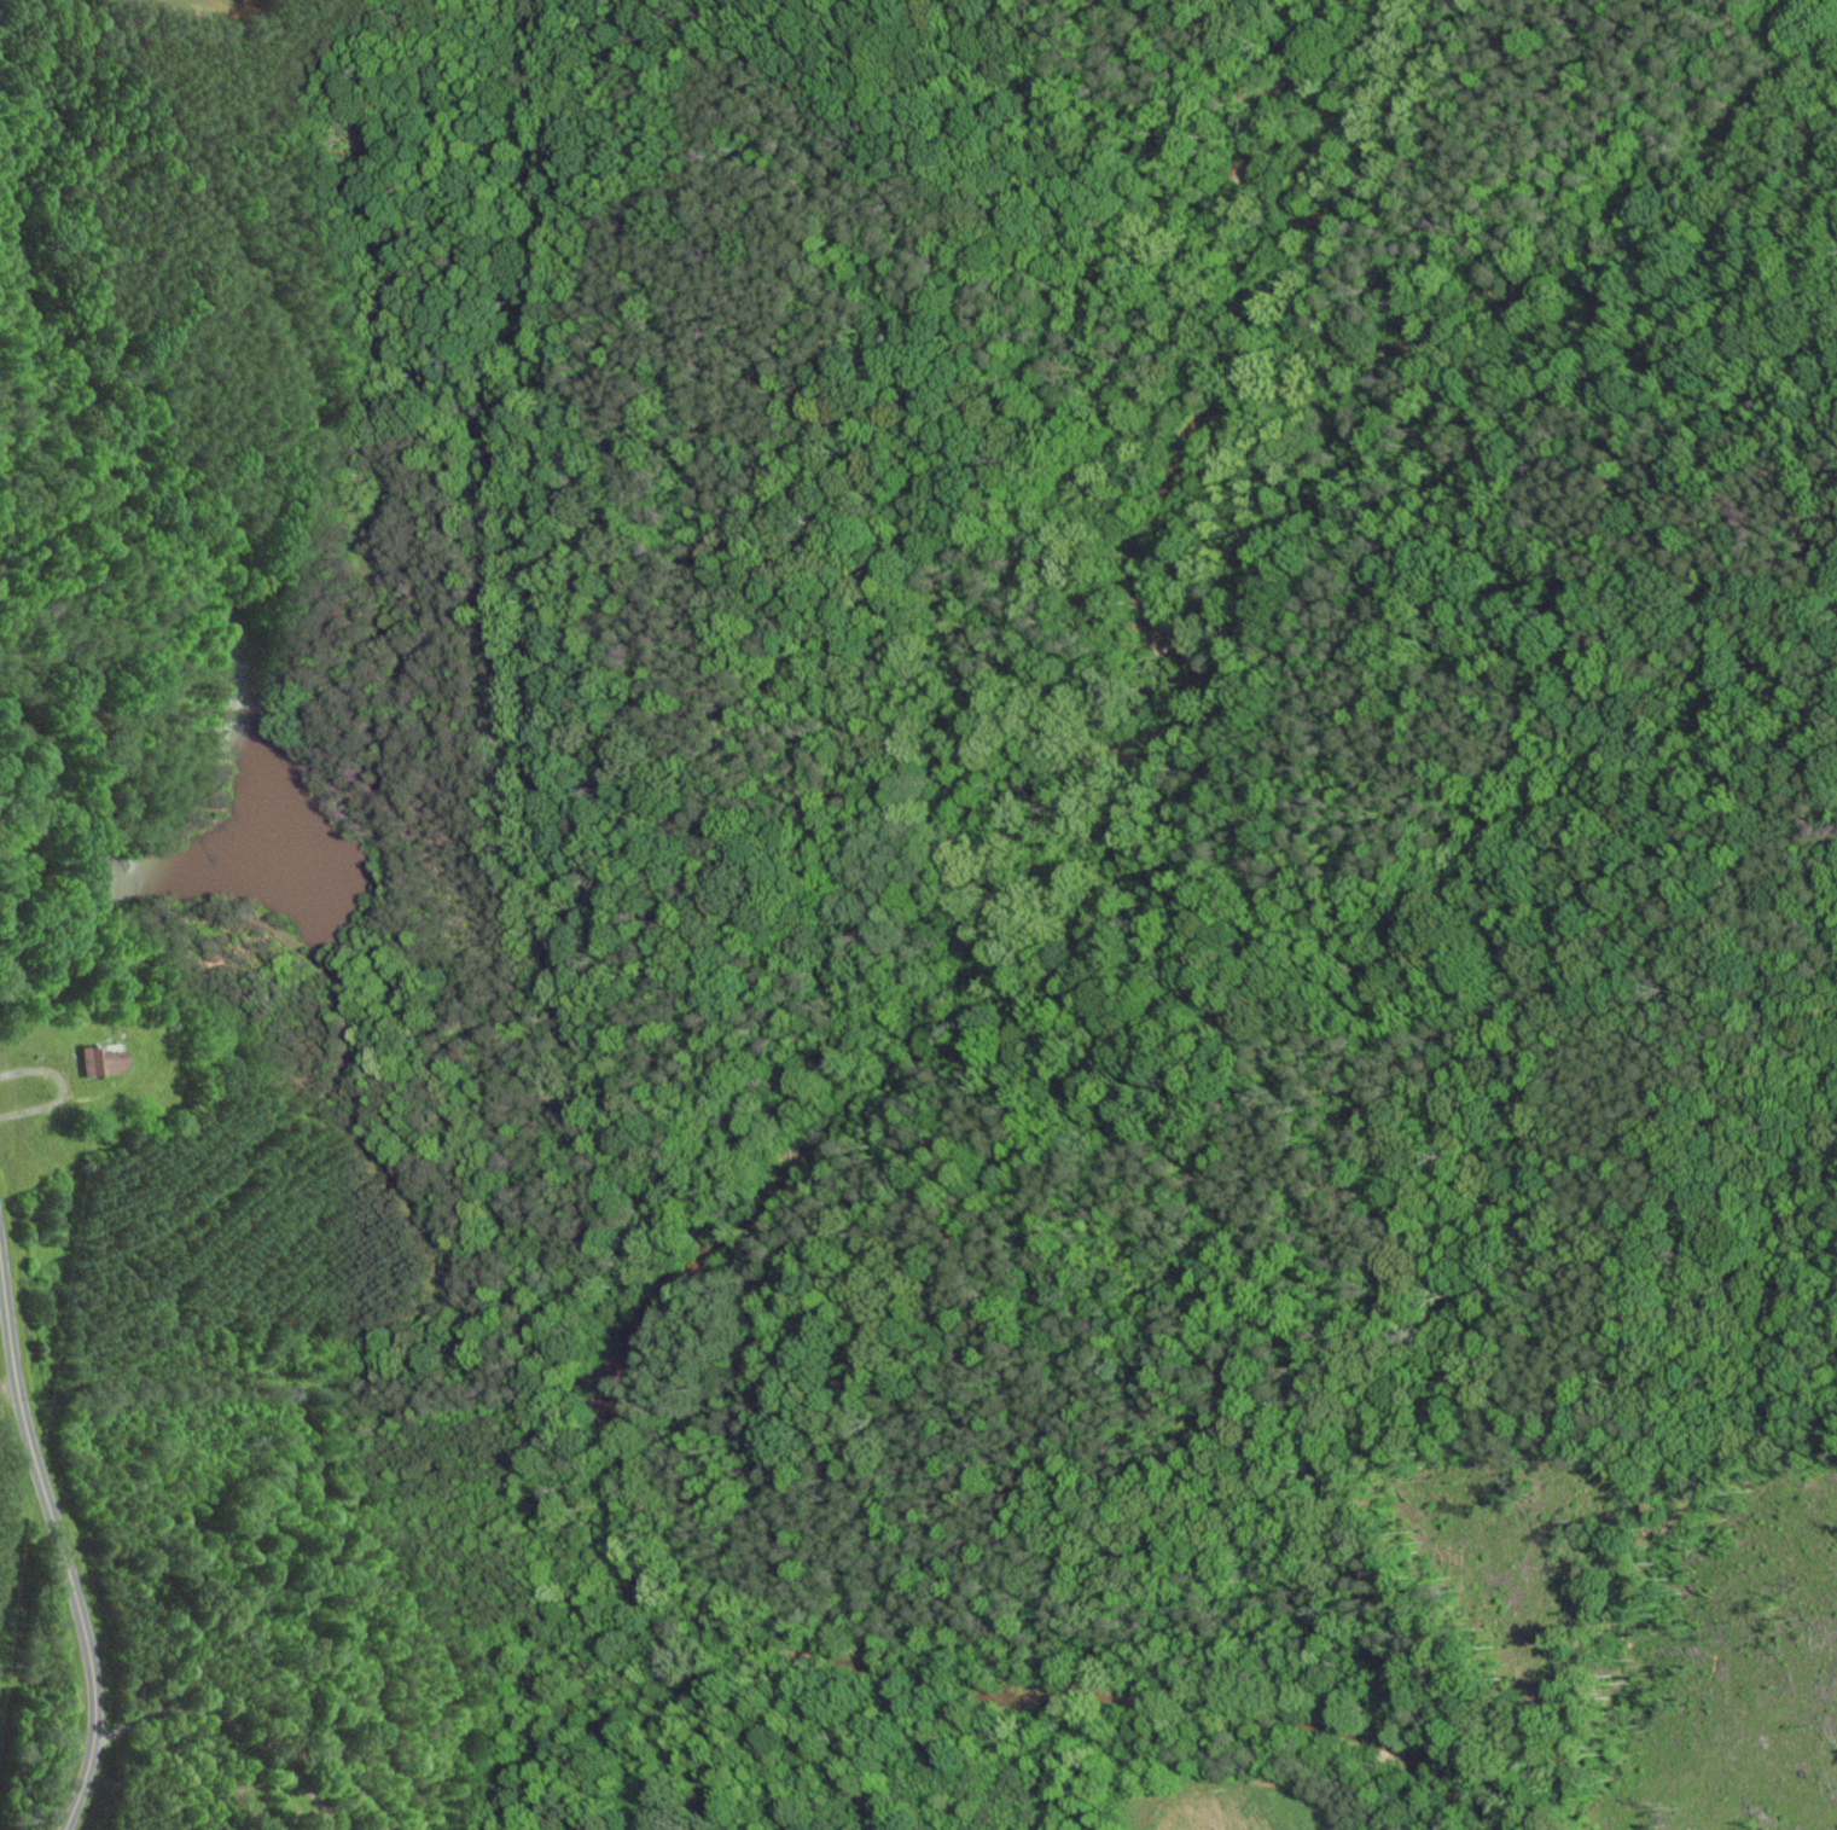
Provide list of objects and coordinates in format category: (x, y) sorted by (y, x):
building: (106, 1059)
road: (63, 1544)
road: (257, 1545)
road: (237, 1724)

